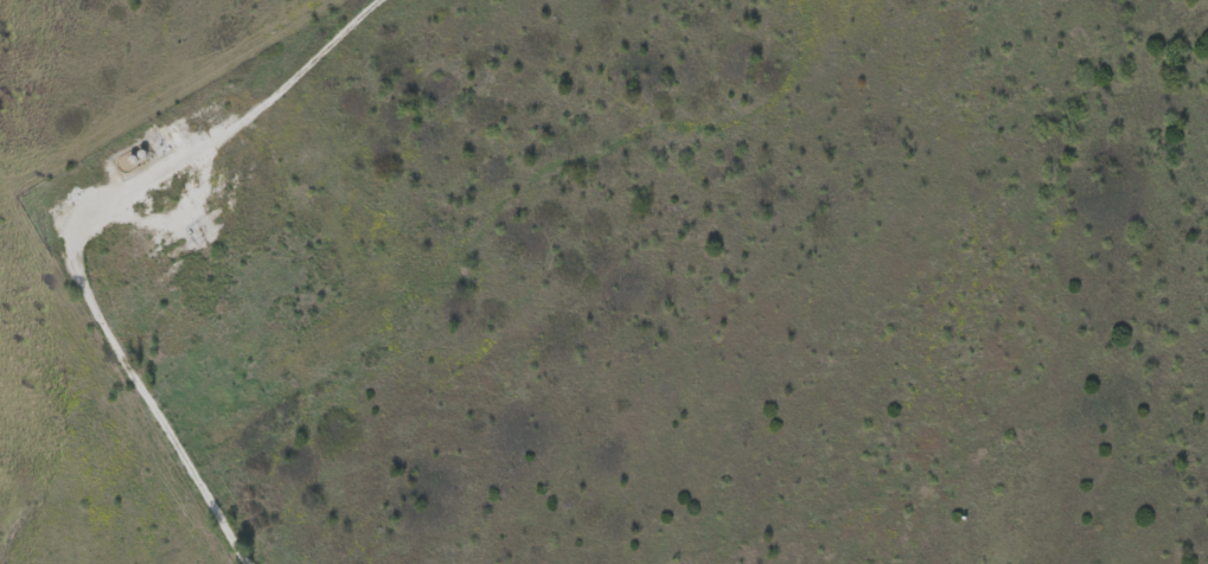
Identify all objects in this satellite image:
road: (69, 229)

